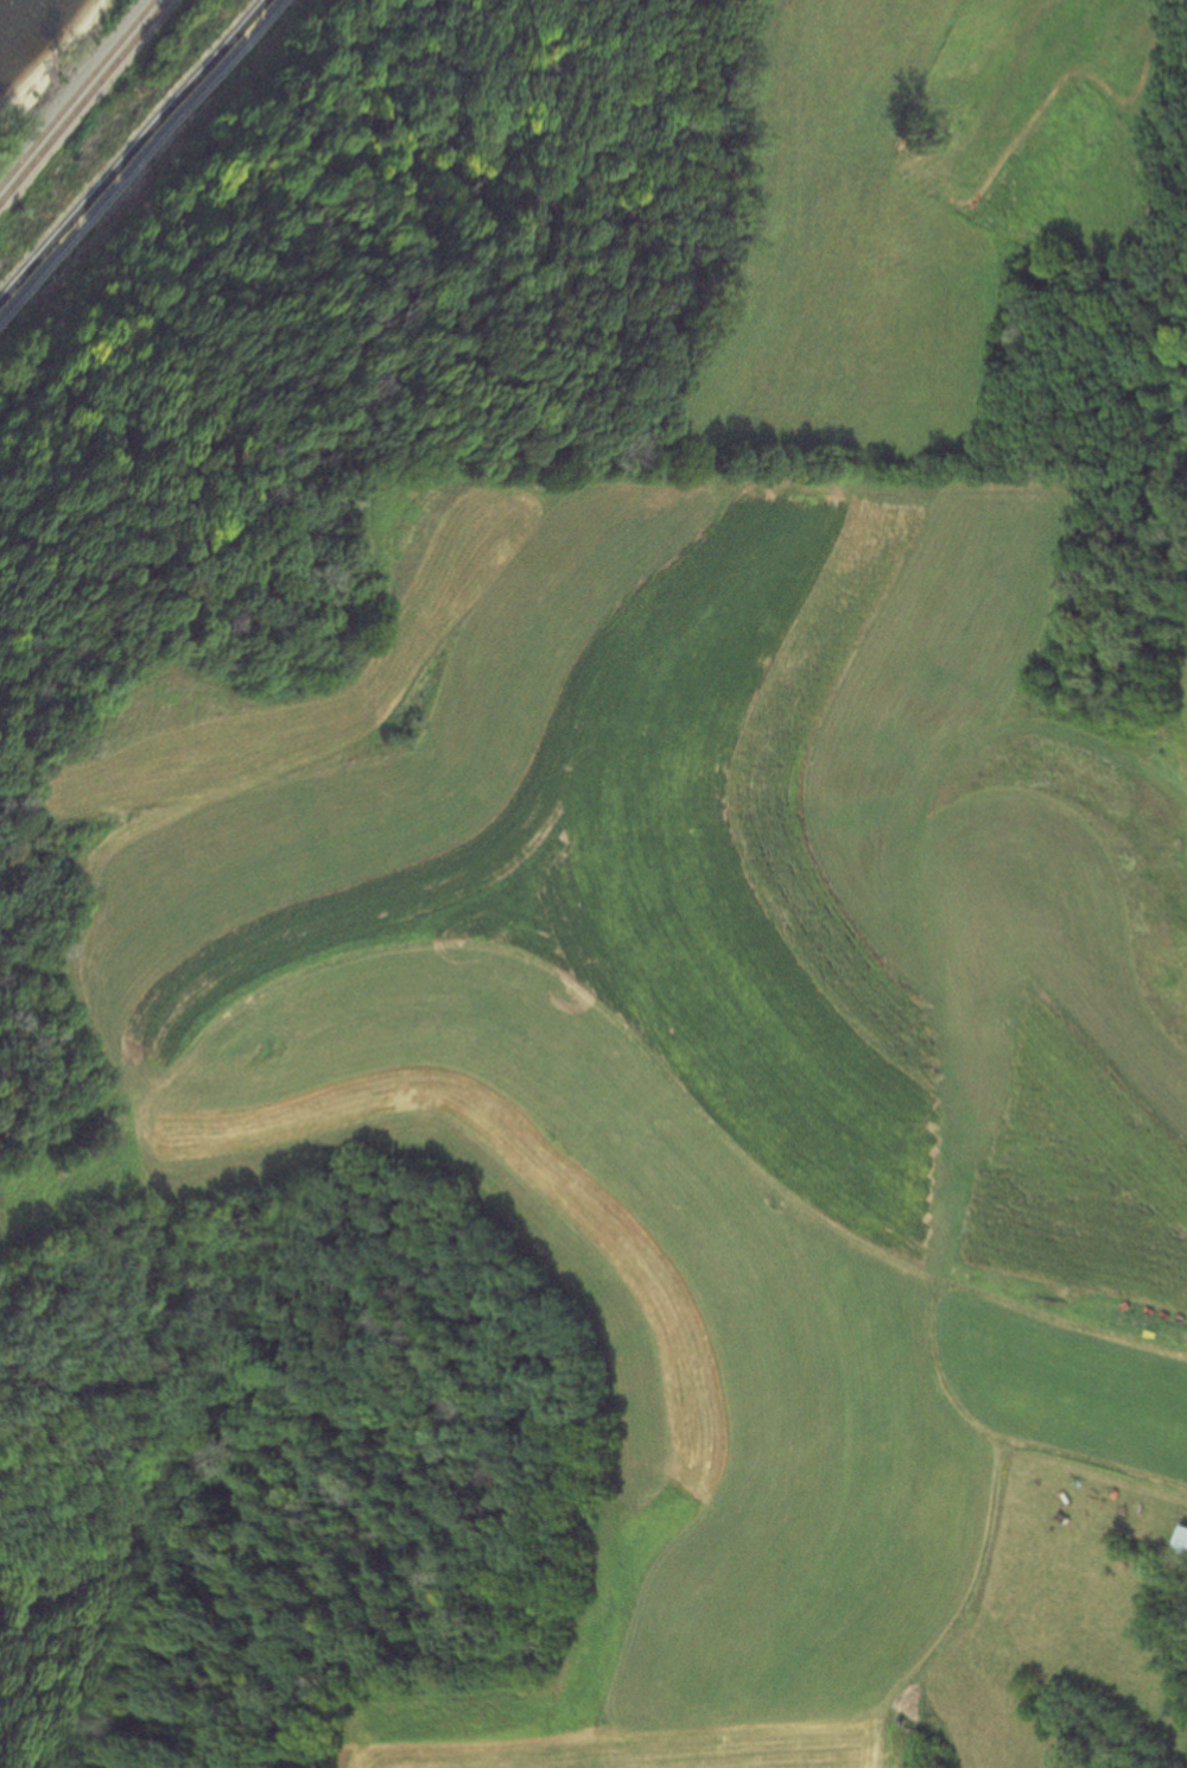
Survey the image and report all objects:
railway: (77, 93)
railway: (85, 102)
road: (138, 158)

